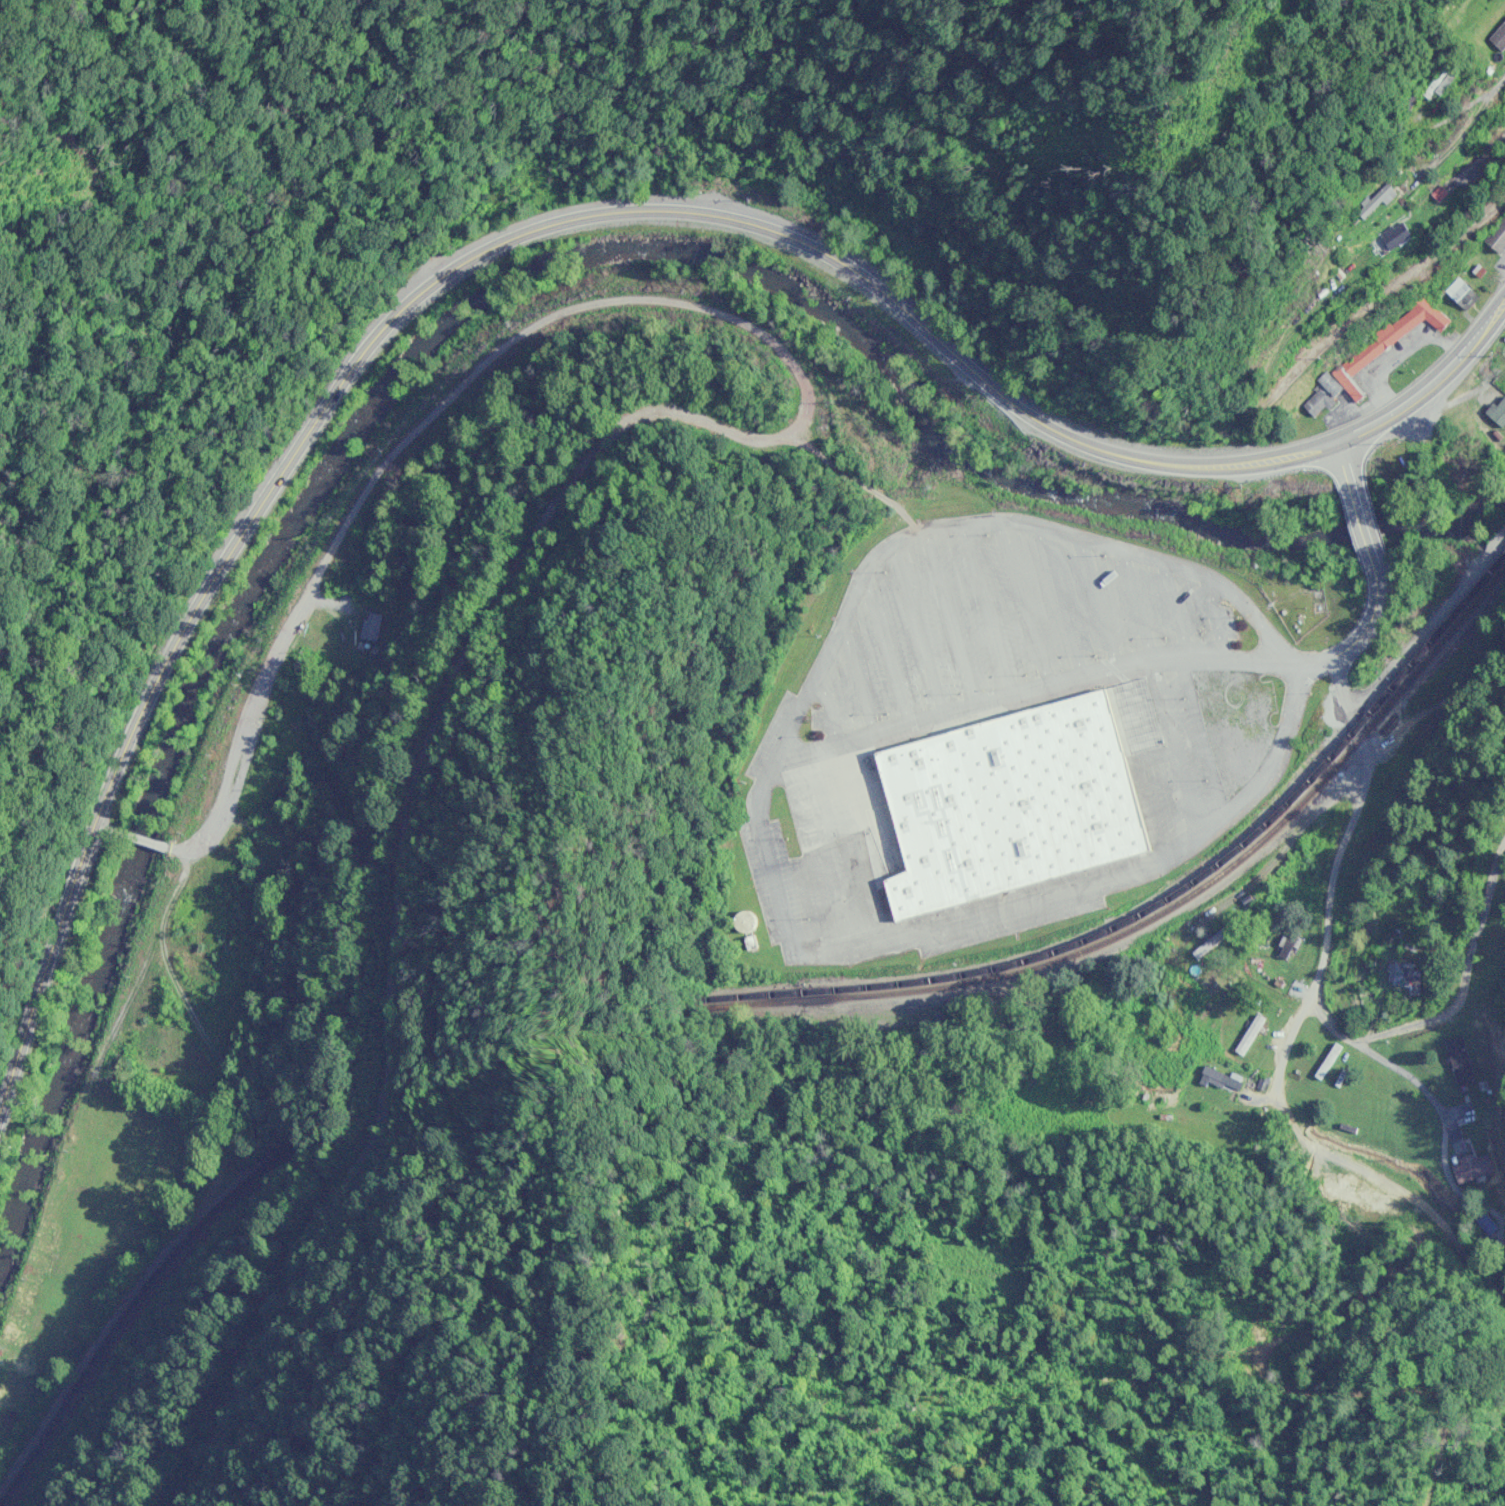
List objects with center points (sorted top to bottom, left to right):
building: (1500, 38)
building: (1441, 85)
road: (1460, 134)
building: (1378, 202)
road: (552, 224)
building: (1397, 236)
building: (1498, 238)
road: (913, 251)
building: (1464, 294)
road: (1377, 296)
building: (1391, 341)
building: (1325, 395)
building: (1500, 414)
building: (373, 626)
road: (1365, 748)
road: (827, 750)
building: (1012, 804)
building: (811, 832)
railway: (1166, 899)
railway: (1167, 910)
building: (747, 921)
building: (1215, 941)
building: (1290, 946)
building: (1410, 976)
building: (1252, 1034)
building: (1462, 1060)
building: (1330, 1061)
building: (1216, 1078)
road: (1270, 1100)
building: (1474, 1167)
road: (1487, 1203)
railway: (136, 1312)
railway: (144, 1317)
road: (1410, 1342)

